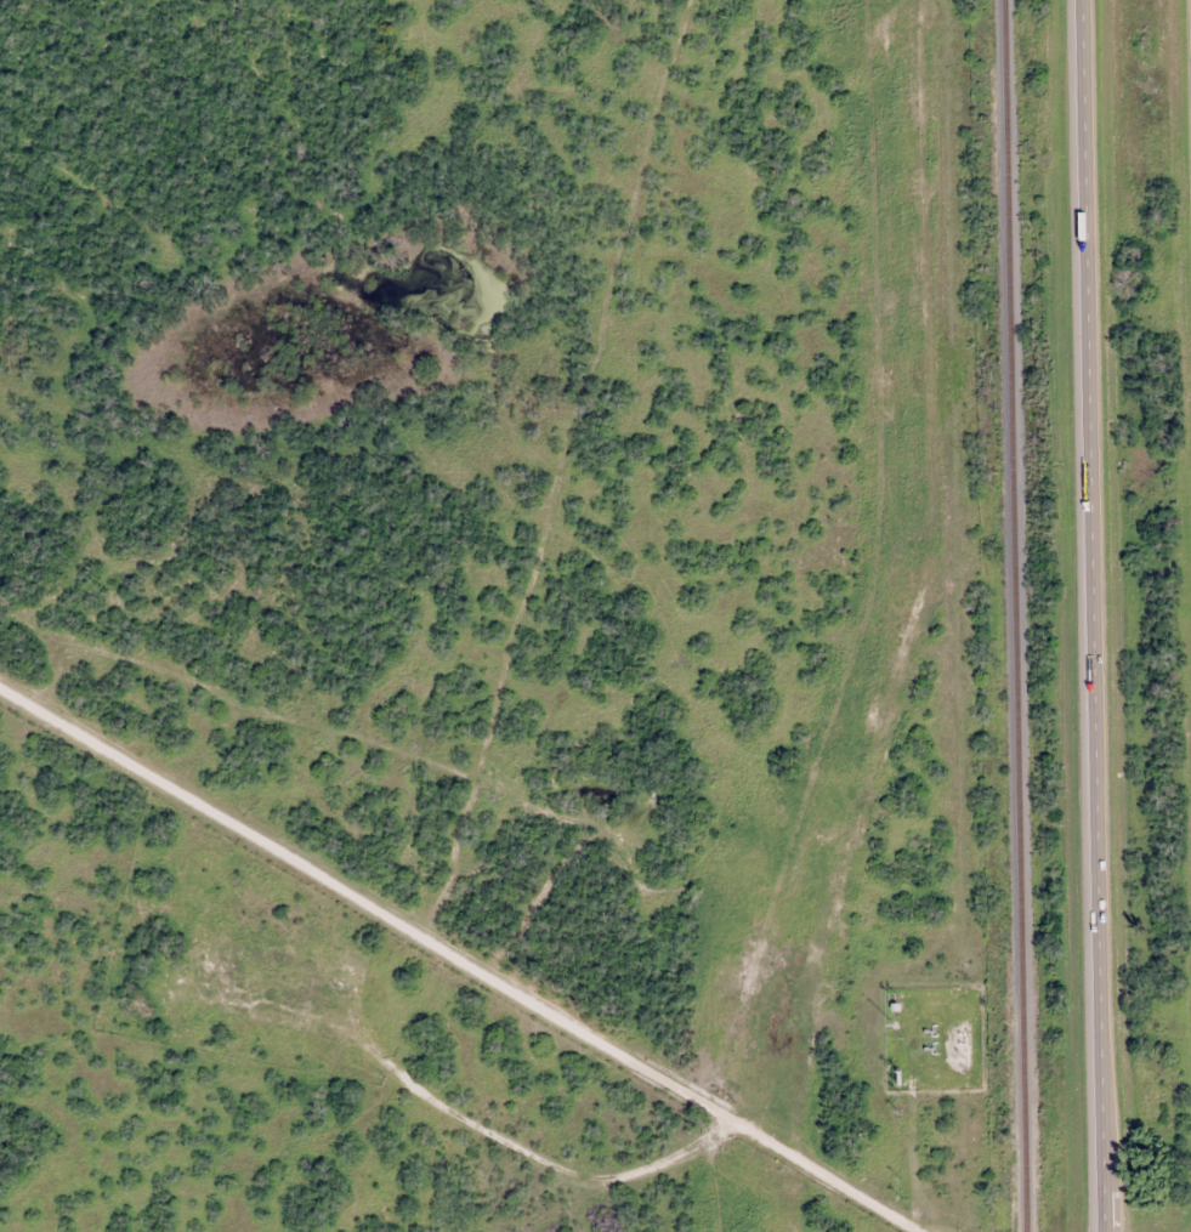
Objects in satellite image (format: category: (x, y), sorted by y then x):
railway: (1019, 615)
road: (1094, 615)
road: (473, 978)

